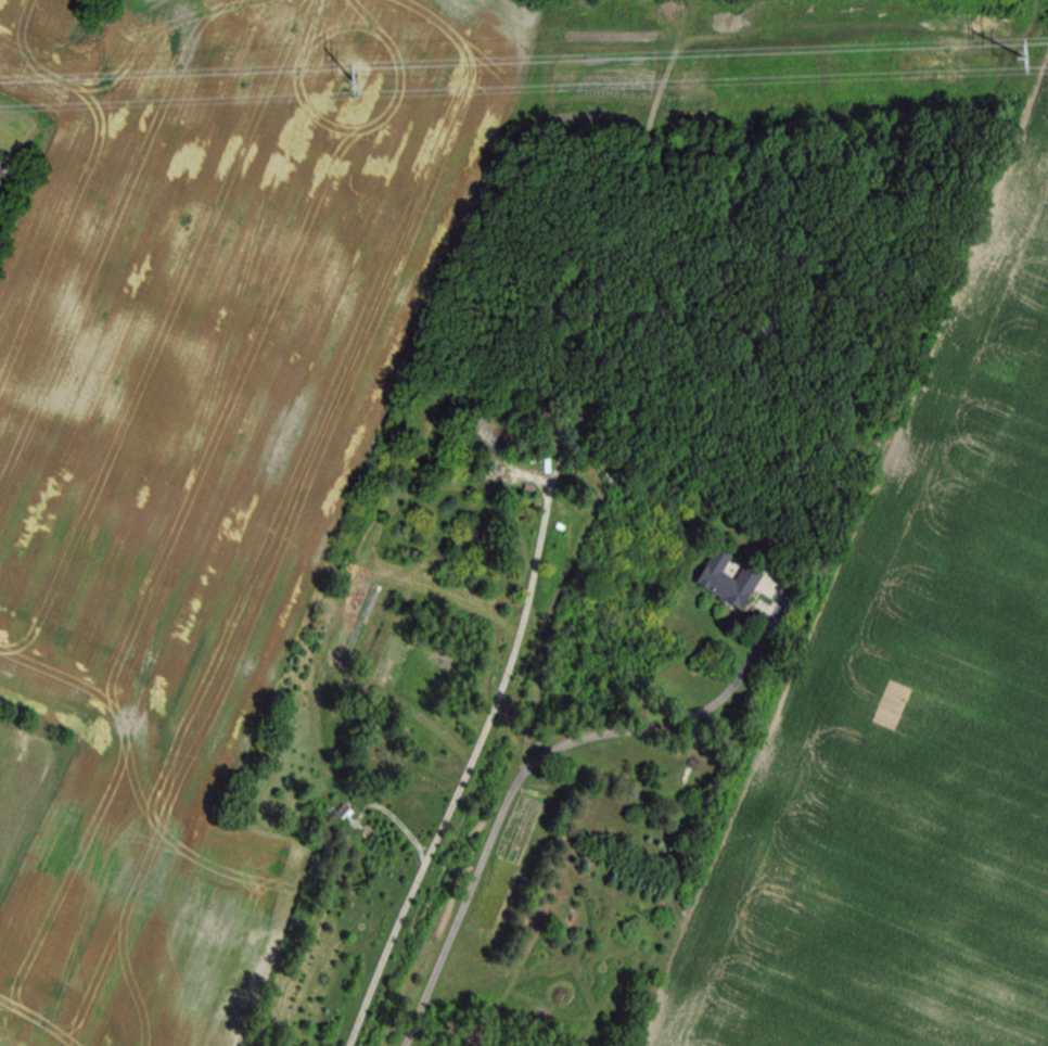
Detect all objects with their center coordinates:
power tower: (1017, 63)
power tower: (340, 88)
building: (767, 330)
crop: (201, 445)
building: (727, 581)
crop: (909, 751)
road: (523, 773)

